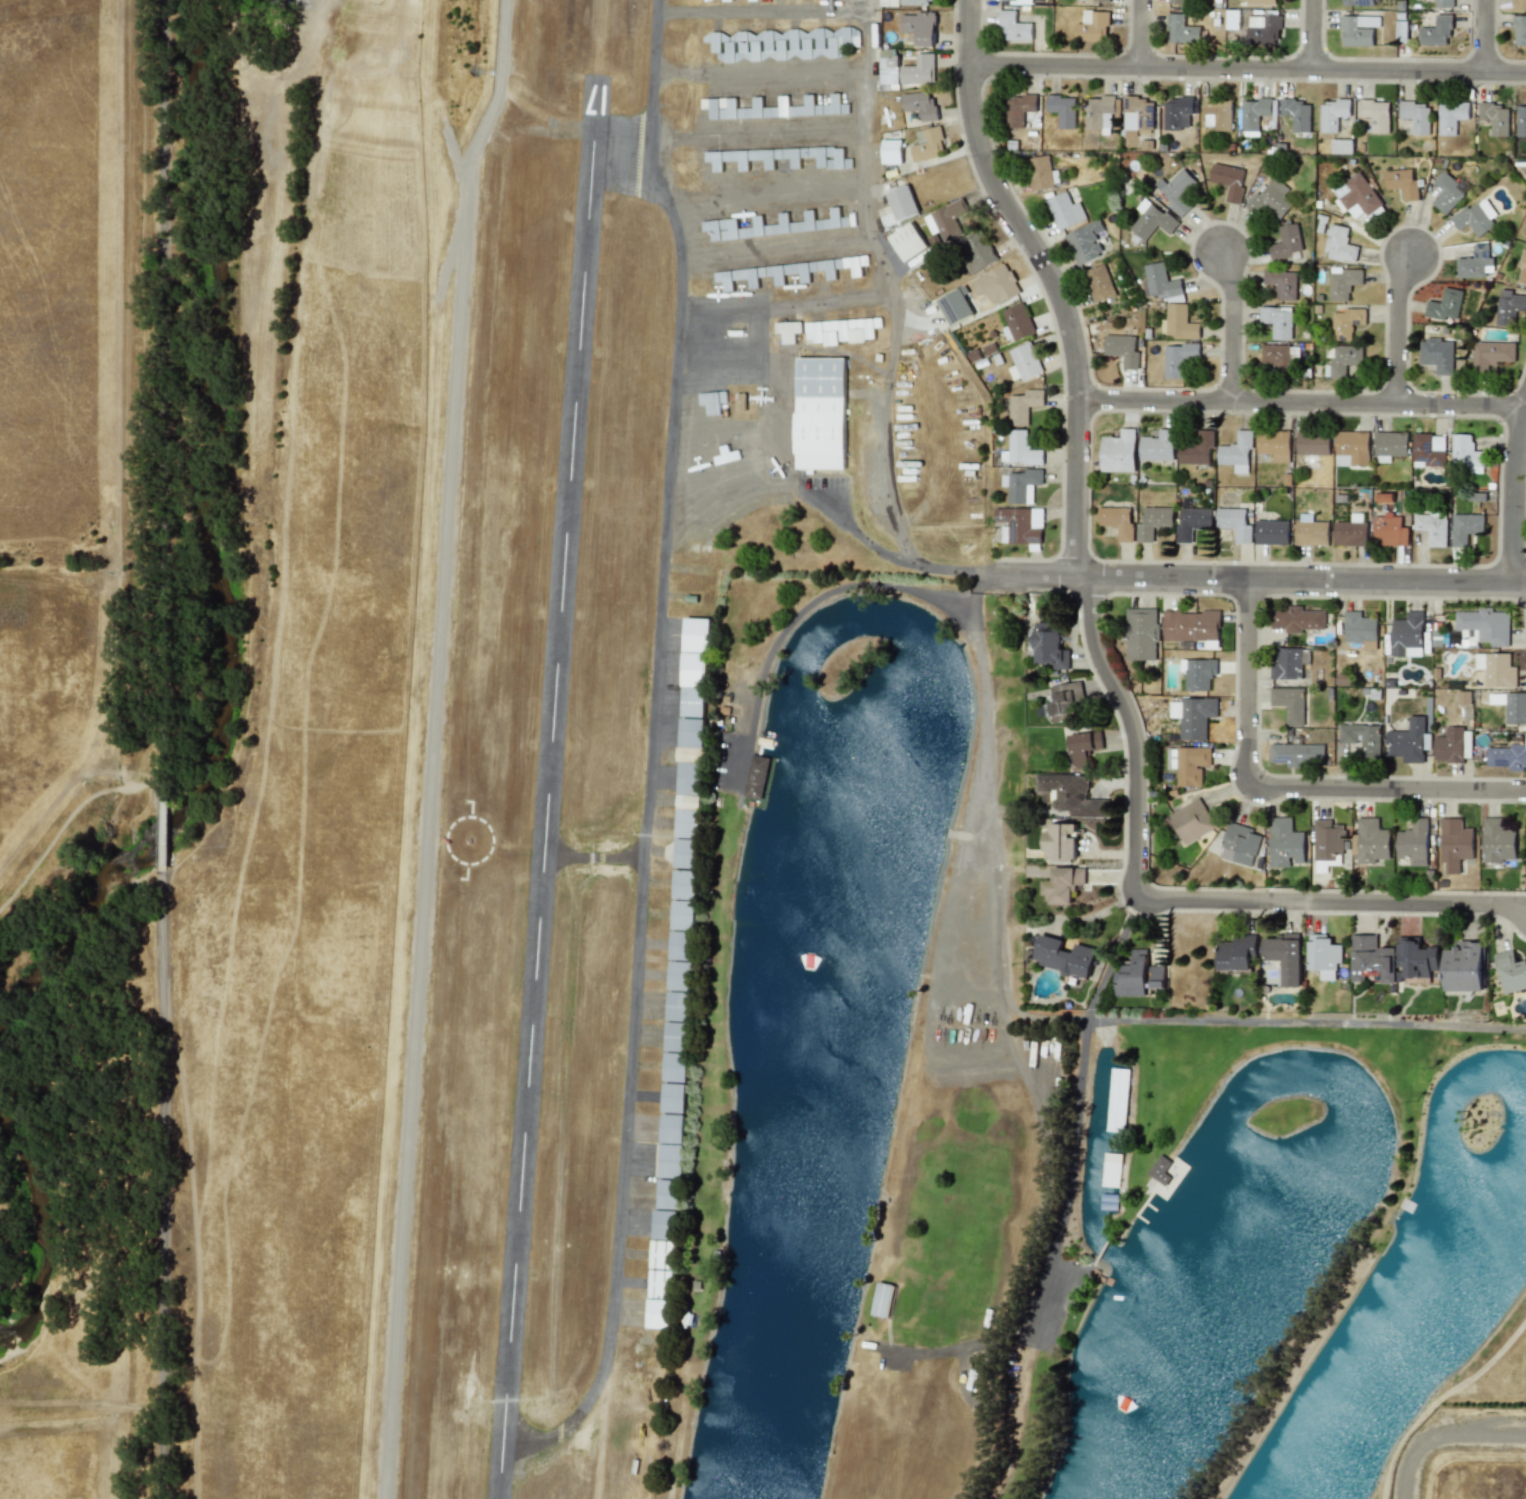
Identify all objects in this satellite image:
building: (1007, 0)
building: (1100, 0)
building: (1176, 1)
building: (889, 2)
building: (917, 2)
building: (1263, 2)
building: (1357, 2)
building: (1444, 3)
building: (1519, 5)
airport taxiway: (756, 11)
building: (1232, 19)
building: (1012, 26)
building: (1092, 26)
building: (919, 27)
building: (1263, 29)
building: (1358, 29)
building: (1182, 30)
building: (1402, 30)
building: (1519, 30)
road: (1141, 31)
building: (1437, 31)
road: (1314, 33)
road: (1487, 34)
building: (781, 44)
road: (1248, 64)
building: (889, 68)
airport taxiway: (656, 69)
building: (919, 70)
airport taxiway: (758, 71)
building: (920, 105)
building: (820, 106)
building: (720, 107)
building: (765, 109)
building: (1062, 109)
building: (1099, 112)
building: (1256, 112)
building: (1178, 113)
building: (1217, 113)
building: (1297, 113)
building: (1333, 113)
building: (1137, 114)
building: (1375, 114)
building: (1416, 116)
building: (1451, 117)
building: (1494, 117)
building: (1521, 120)
airport taxiway: (731, 134)
building: (927, 144)
building: (1341, 146)
building: (891, 151)
building: (766, 157)
building: (837, 158)
airport apron: (786, 163)
building: (1040, 172)
building: (1229, 179)
building: (1402, 183)
building: (1176, 190)
building: (1447, 191)
building: (1357, 195)
airport taxiway: (763, 197)
building: (1271, 199)
building: (901, 202)
building: (1065, 210)
building: (1474, 217)
building: (833, 220)
building: (946, 220)
building: (1152, 220)
building: (804, 222)
building: (745, 228)
building: (908, 241)
building: (1085, 241)
building: (1286, 242)
building: (1339, 243)
airport taxiway: (769, 246)
building: (976, 254)
building: (1475, 262)
building: (1522, 269)
building: (784, 272)
road: (1056, 280)
building: (1160, 281)
building: (1344, 282)
building: (1100, 283)
building: (1283, 283)
building: (1000, 284)
building: (1445, 304)
building: (955, 305)
airport taxiway: (778, 306)
building: (1509, 306)
building: (1278, 320)
building: (1017, 321)
building: (1179, 322)
building: (1347, 322)
road: (1237, 324)
road: (1402, 325)
building: (788, 331)
building: (1122, 349)
building: (1492, 353)
building: (1437, 354)
building: (1279, 355)
building: (1179, 358)
building: (1024, 360)
building: (1343, 360)
road: (158, 390)
road: (1304, 399)
building: (713, 401)
building: (741, 402)
building: (1024, 405)
airport apron: (731, 407)
building: (820, 413)
building: (1313, 443)
building: (1274, 444)
building: (1389, 445)
building: (1157, 446)
building: (1351, 447)
building: (1196, 448)
building: (1020, 449)
building: (1429, 450)
building: (1118, 451)
building: (1236, 452)
building: (1466, 453)
building: (725, 455)
building: (1021, 484)
road: (1517, 499)
building: (1117, 521)
building: (1153, 522)
building: (1192, 522)
building: (1235, 523)
road: (897, 526)
building: (1433, 526)
building: (1465, 527)
building: (1311, 530)
building: (1388, 530)
building: (1272, 531)
building: (1351, 531)
road: (855, 532)
road: (1264, 578)
road: (814, 600)
building: (1296, 618)
building: (1485, 624)
building: (1191, 626)
building: (1360, 629)
building: (1141, 634)
building: (1407, 635)
building: (1048, 646)
building: (696, 652)
building: (1289, 662)
building: (1496, 669)
building: (1198, 673)
building: (1064, 699)
building: (692, 702)
building: (1289, 703)
building: (1515, 707)
building: (1193, 715)
building: (692, 733)
building: (1362, 737)
building: (1409, 741)
building: (1451, 744)
road: (436, 746)
building: (1083, 746)
building: (1296, 753)
building: (1508, 754)
building: (1191, 764)
building: (756, 776)
crop: (161, 780)
road: (1288, 783)
airport runway: (549, 790)
road: (1132, 790)
building: (689, 801)
airport taxiway: (646, 808)
building: (1190, 821)
road: (162, 825)
building: (1372, 840)
building: (1498, 840)
building: (1060, 841)
building: (1413, 842)
building: (1285, 843)
building: (1455, 843)
building: (1239, 844)
building: (1327, 844)
building: (685, 853)
airport taxiway: (594, 856)
building: (1063, 883)
road: (1389, 901)
building: (681, 944)
building: (1236, 952)
building: (1324, 955)
building: (1063, 956)
building: (1284, 956)
building: (1370, 958)
building: (1416, 958)
building: (1464, 966)
building: (1511, 971)
building: (1138, 975)
road: (1306, 1023)
building: (676, 1036)
building: (675, 1067)
building: (673, 1098)
building: (1117, 1099)
road: (1079, 1111)
building: (671, 1146)
building: (1110, 1169)
building: (1159, 1169)
road: (162, 1184)
building: (669, 1194)
building: (667, 1225)
building: (660, 1284)
building: (882, 1299)
road: (952, 1349)
road: (1443, 1435)

